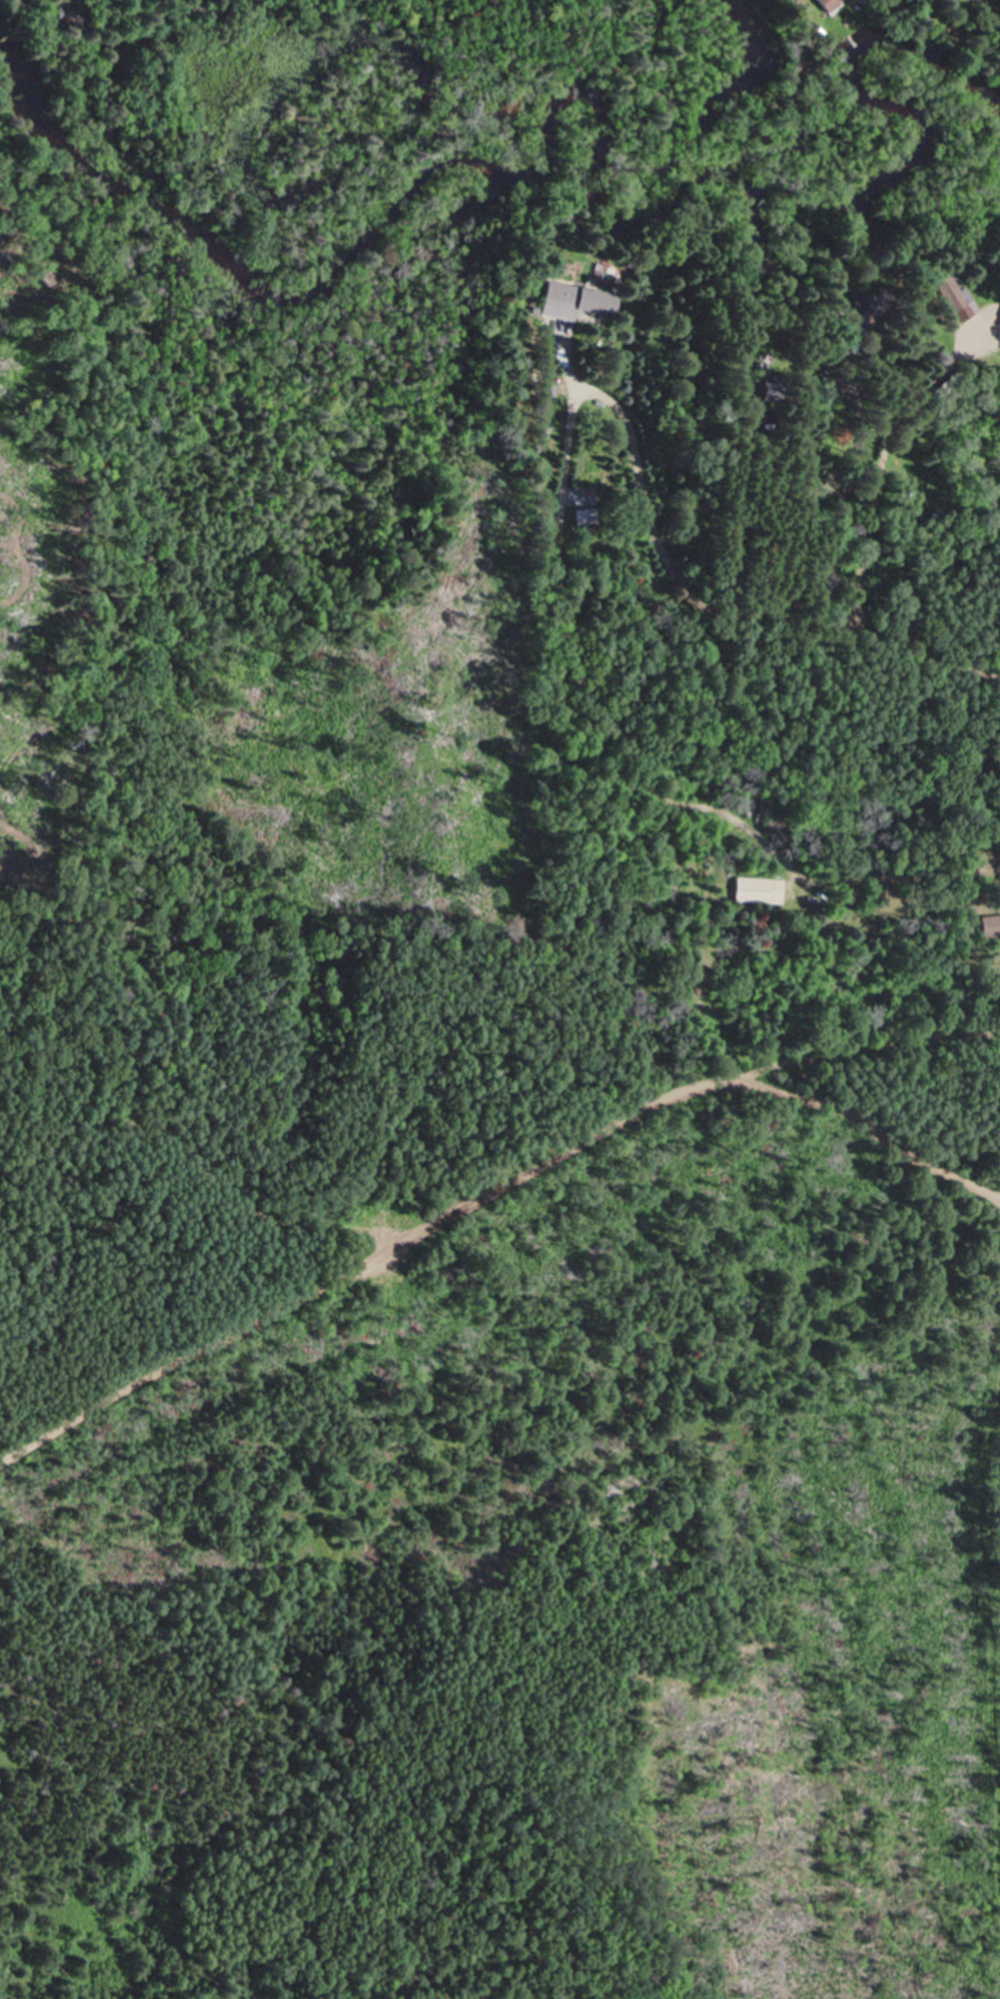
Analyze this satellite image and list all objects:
building: (827, 4)
river: (590, 209)
building: (950, 292)
building: (577, 303)
building: (862, 305)
building: (584, 516)
road: (721, 608)
building: (759, 890)
road: (869, 1134)
road: (213, 1167)
road: (481, 1197)

